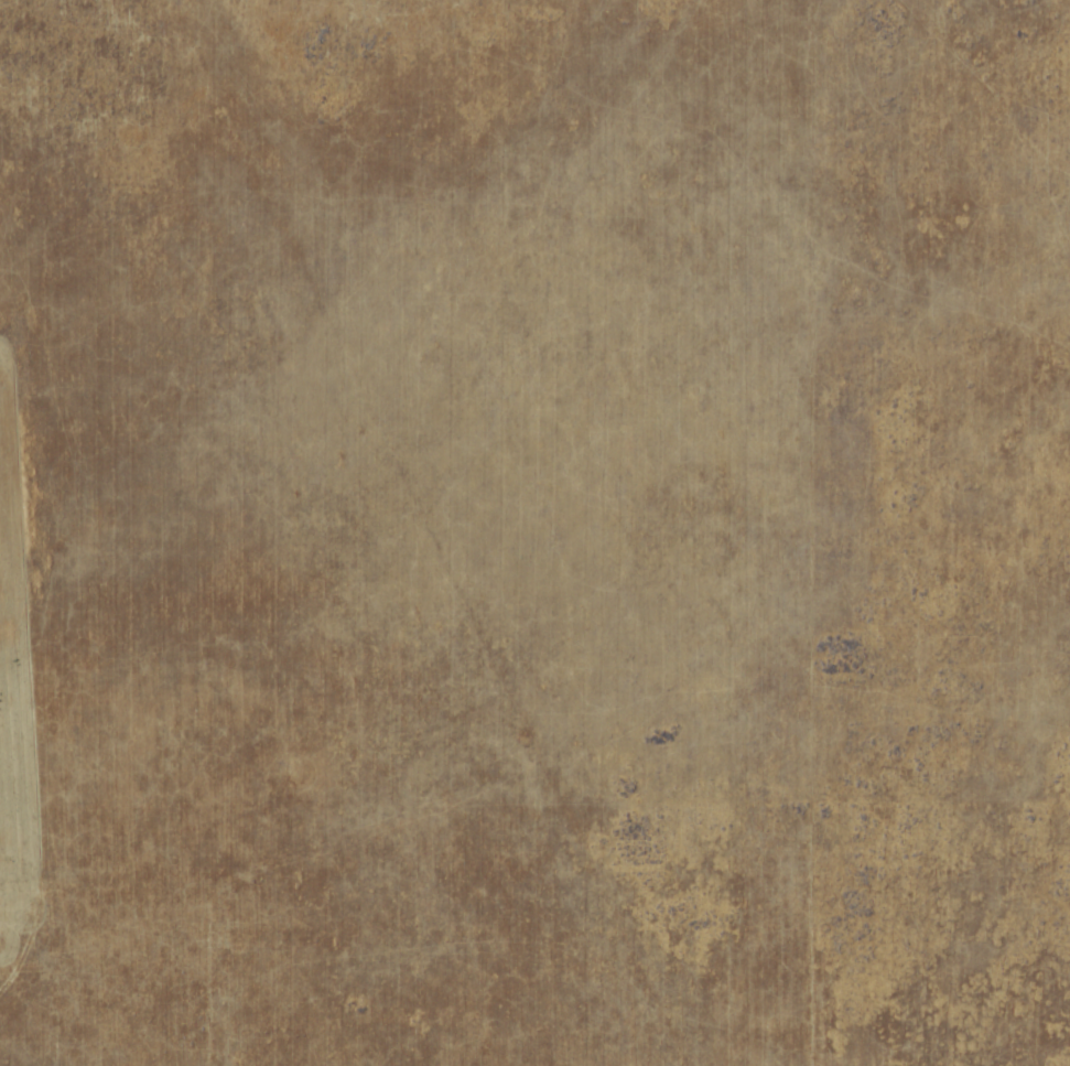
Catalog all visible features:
road: (951, 532)

